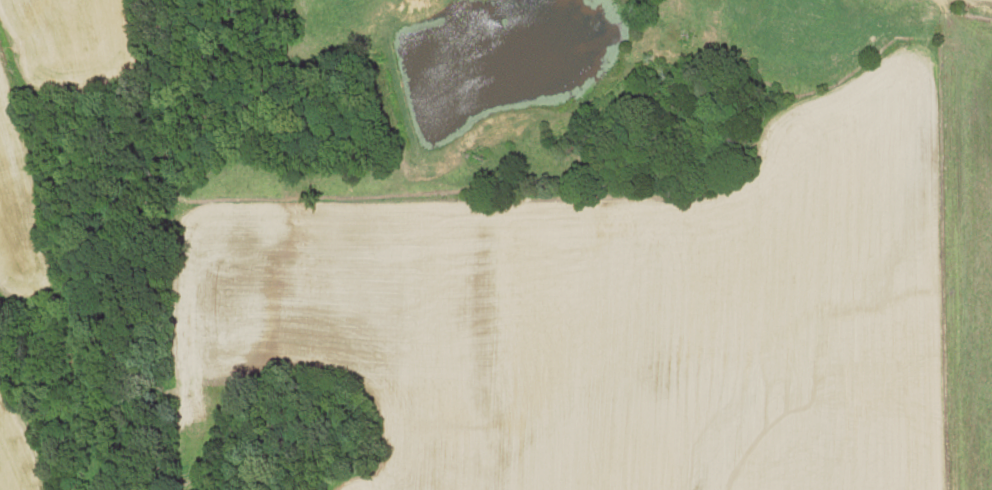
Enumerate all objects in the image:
road: (971, 1)

